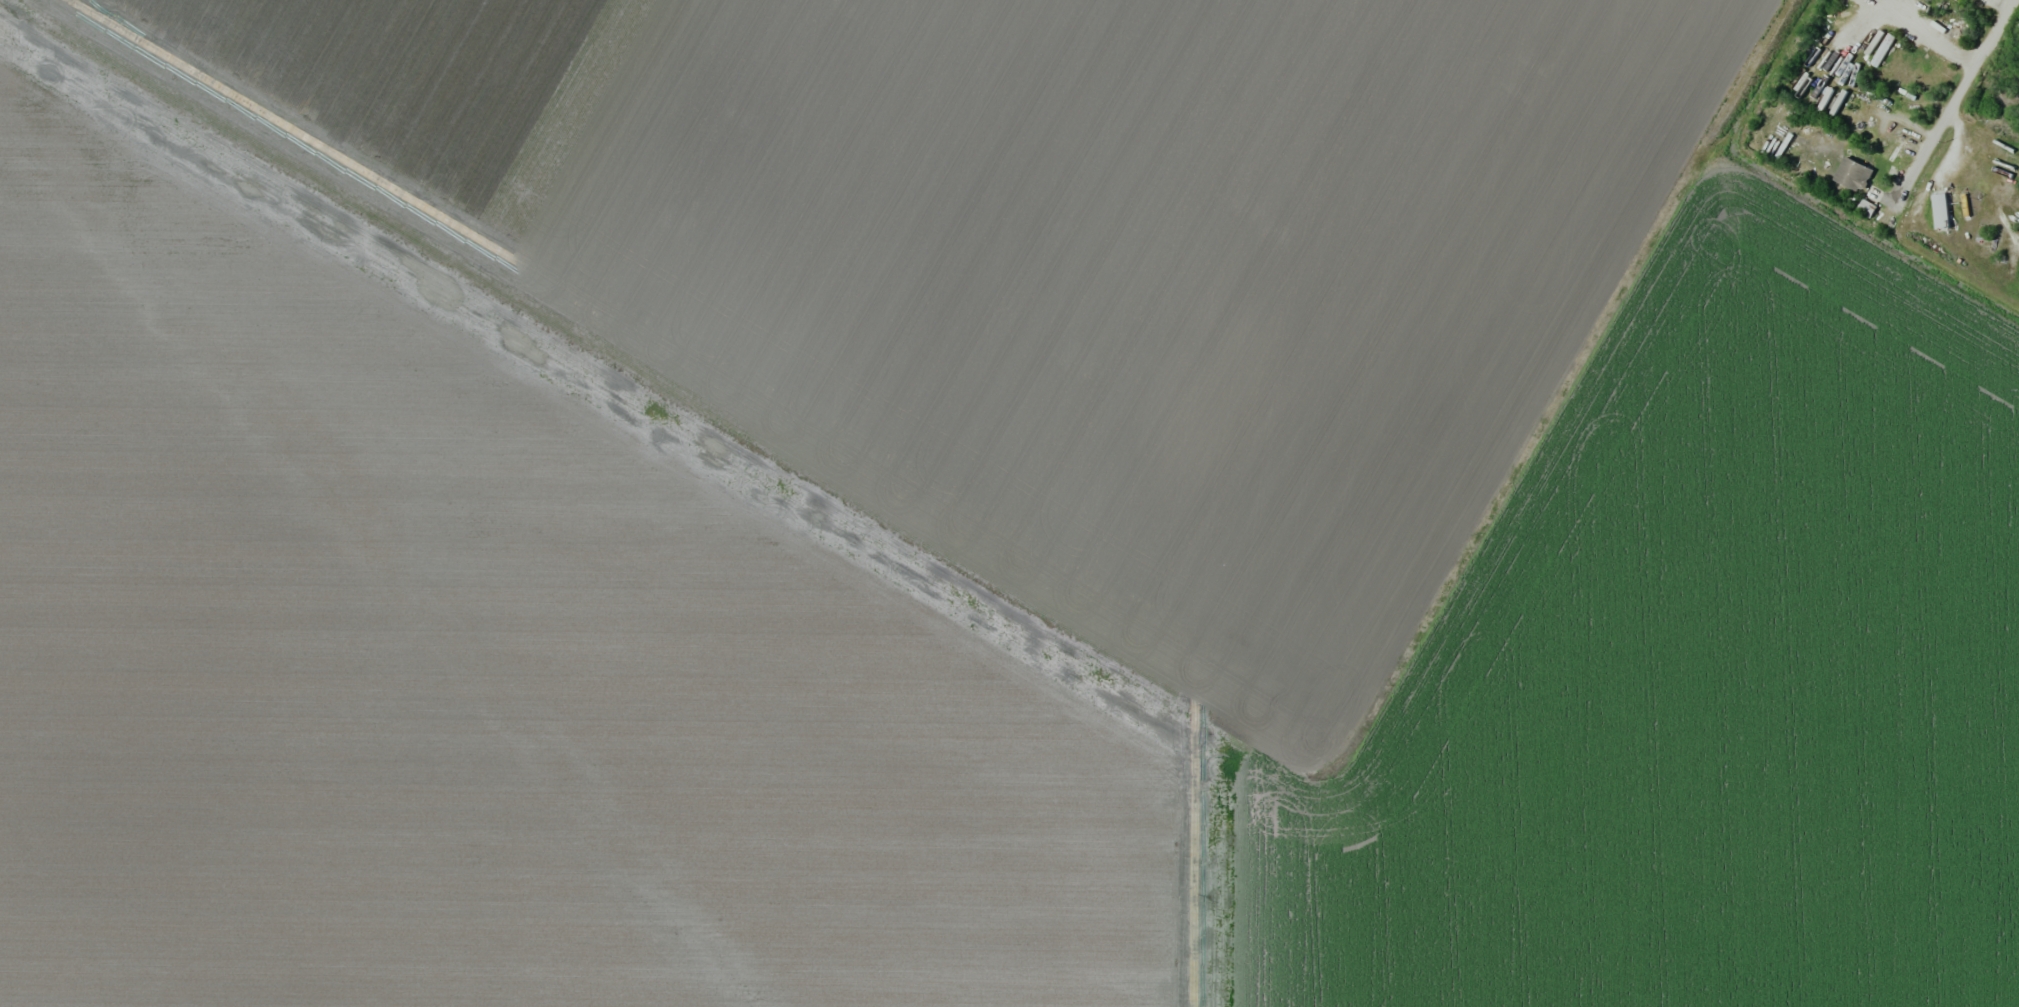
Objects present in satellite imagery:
building: (1943, 12)
road: (1956, 110)
building: (1852, 174)
building: (1939, 210)

